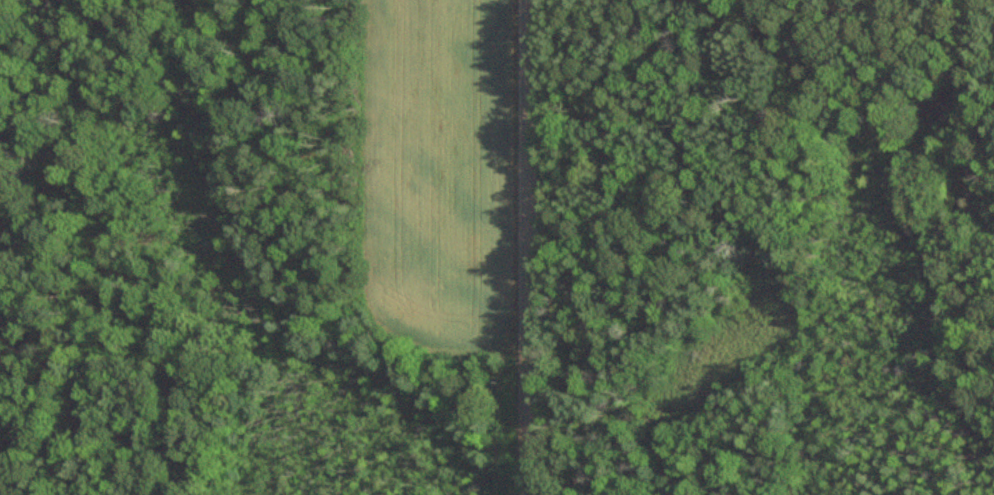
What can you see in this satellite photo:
road: (522, 247)

